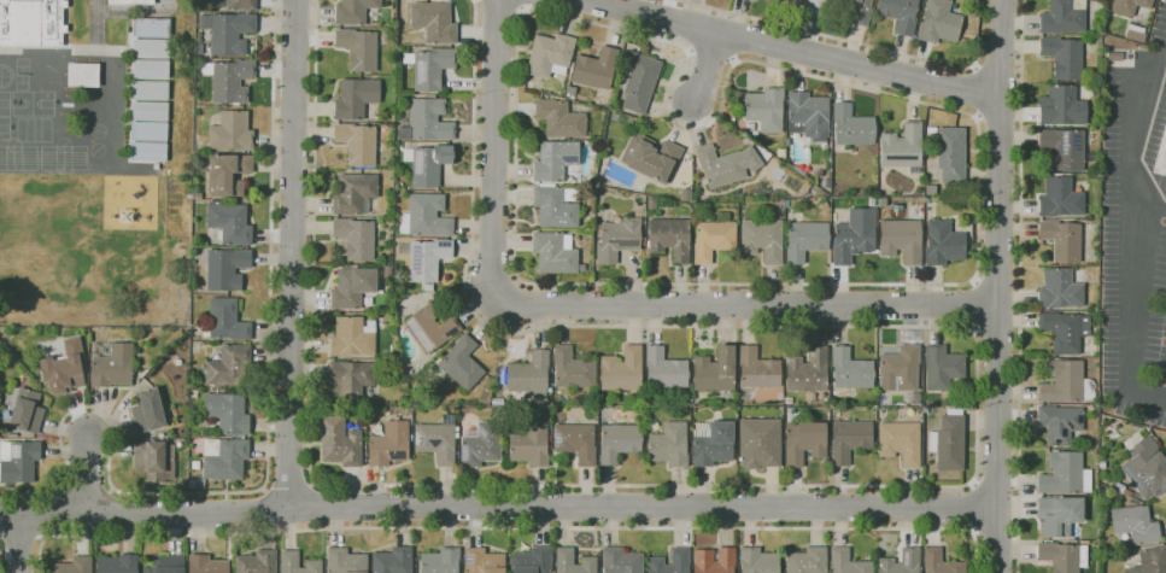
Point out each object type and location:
building: (129, 1)
road: (510, 2)
building: (235, 4)
building: (1129, 6)
building: (814, 7)
road: (522, 8)
building: (855, 10)
building: (353, 11)
building: (898, 13)
building: (1062, 17)
building: (31, 22)
building: (433, 22)
building: (942, 23)
building: (151, 27)
building: (227, 33)
building: (1135, 34)
road: (857, 42)
building: (150, 48)
building: (358, 48)
road: (793, 49)
road: (689, 52)
building: (549, 54)
road: (711, 54)
building: (1114, 55)
building: (1062, 57)
road: (733, 60)
building: (429, 66)
road: (974, 66)
road: (707, 68)
building: (150, 69)
building: (594, 69)
building: (82, 74)
building: (229, 80)
building: (638, 81)
road: (850, 84)
building: (150, 92)
road: (978, 92)
building: (355, 98)
park: (5, 104)
park: (34, 104)
building: (1061, 106)
building: (764, 109)
building: (808, 116)
road: (977, 117)
building: (558, 118)
building: (423, 119)
building: (850, 127)
park: (5, 129)
building: (230, 131)
building: (147, 140)
building: (787, 141)
building: (357, 144)
building: (902, 147)
road: (493, 148)
building: (1064, 148)
building: (780, 152)
building: (950, 153)
building: (651, 157)
building: (555, 159)
building: (1164, 159)
building: (428, 163)
building: (727, 164)
building: (227, 173)
building: (819, 173)
building: (827, 182)
building: (353, 193)
building: (686, 194)
building: (197, 195)
building: (1060, 198)
building: (927, 199)
building: (224, 201)
road: (1153, 203)
building: (556, 205)
building: (824, 205)
building: (426, 216)
building: (229, 223)
parking lot: (1136, 234)
building: (852, 235)
building: (355, 238)
building: (669, 238)
building: (713, 238)
building: (617, 239)
building: (762, 239)
building: (805, 239)
building: (901, 240)
building: (1061, 240)
building: (643, 241)
road: (1139, 241)
building: (942, 244)
building: (553, 252)
road: (291, 255)
building: (427, 258)
building: (221, 267)
road: (975, 282)
road: (998, 286)
road: (1019, 286)
building: (351, 287)
building: (1060, 290)
road: (978, 305)
road: (746, 306)
building: (225, 320)
building: (429, 327)
road: (975, 329)
building: (1064, 331)
building: (352, 337)
building: (462, 362)
building: (110, 364)
building: (228, 364)
building: (64, 368)
building: (572, 368)
building: (664, 368)
building: (757, 368)
building: (715, 369)
building: (850, 369)
building: (898, 369)
building: (943, 369)
building: (621, 370)
building: (807, 372)
building: (529, 374)
building: (350, 379)
building: (1065, 382)
building: (193, 393)
building: (787, 399)
building: (25, 411)
building: (147, 411)
building: (227, 413)
building: (1060, 422)
building: (1114, 434)
building: (160, 435)
building: (849, 439)
building: (436, 440)
building: (948, 440)
building: (340, 442)
building: (575, 442)
building: (619, 442)
building: (803, 442)
building: (900, 442)
building: (389, 443)
building: (711, 443)
building: (758, 443)
building: (481, 444)
building: (531, 444)
building: (669, 444)
road: (268, 452)
building: (224, 457)
building: (18, 460)
building: (153, 460)
building: (1146, 469)
building: (1065, 473)
road: (87, 474)
building: (195, 483)
road: (288, 485)
road: (889, 486)
building: (1118, 486)
building: (1127, 492)
road: (498, 507)
building: (1059, 515)
building: (1135, 524)
road: (511, 527)
road: (22, 540)
building: (1084, 542)
road: (18, 544)
building: (1062, 556)
building: (392, 560)
building: (564, 560)
building: (758, 560)
building: (345, 561)
building: (440, 561)
building: (482, 561)
building: (532, 561)
building: (621, 561)
building: (680, 561)
building: (714, 561)
building: (807, 561)
building: (1150, 561)
building: (257, 562)
building: (848, 562)
building: (901, 562)
building: (939, 562)
building: (117, 563)
building: (289, 563)
building: (165, 565)
building: (206, 565)
building: (72, 566)

